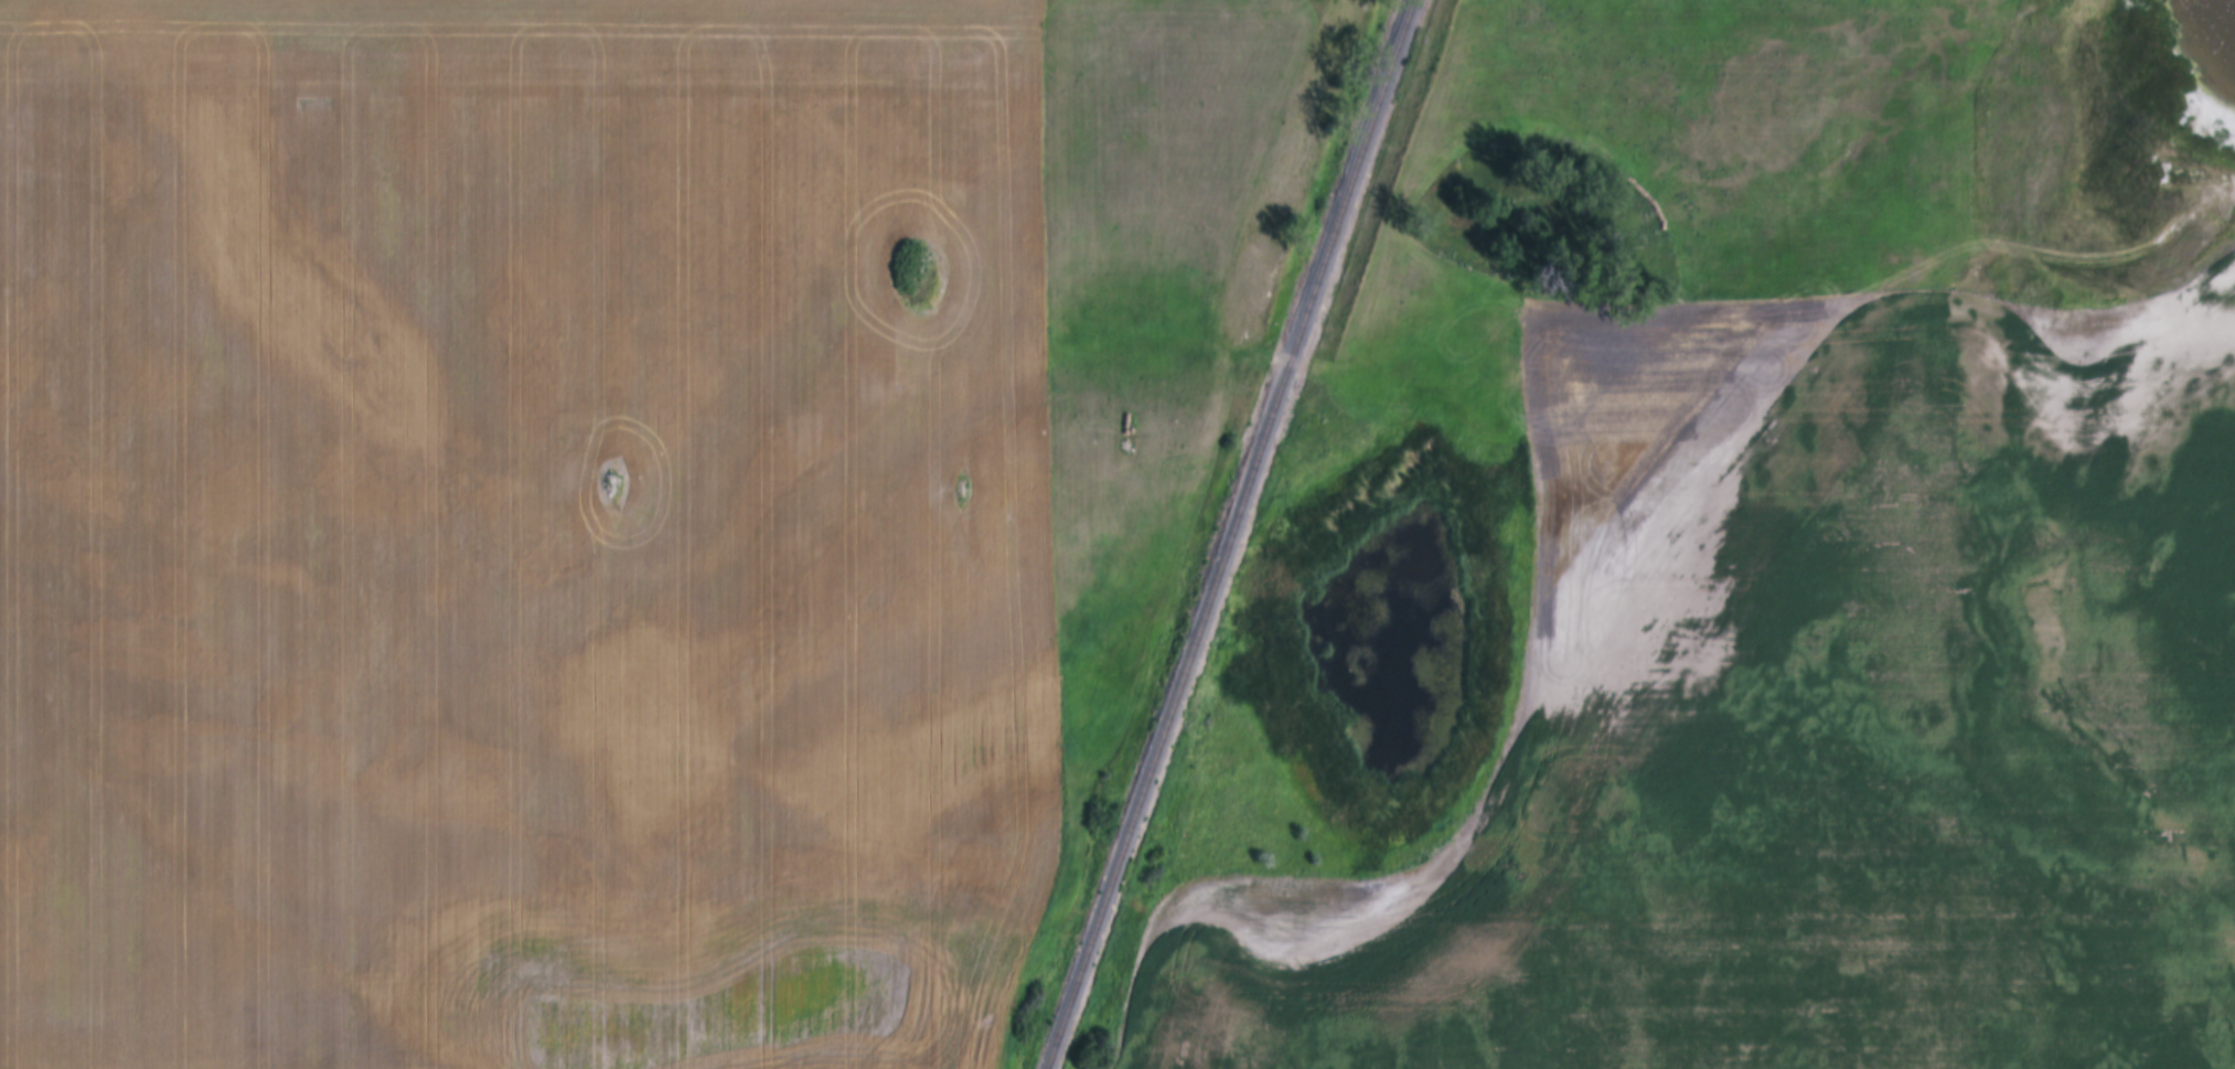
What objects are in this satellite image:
railway: (1229, 534)

